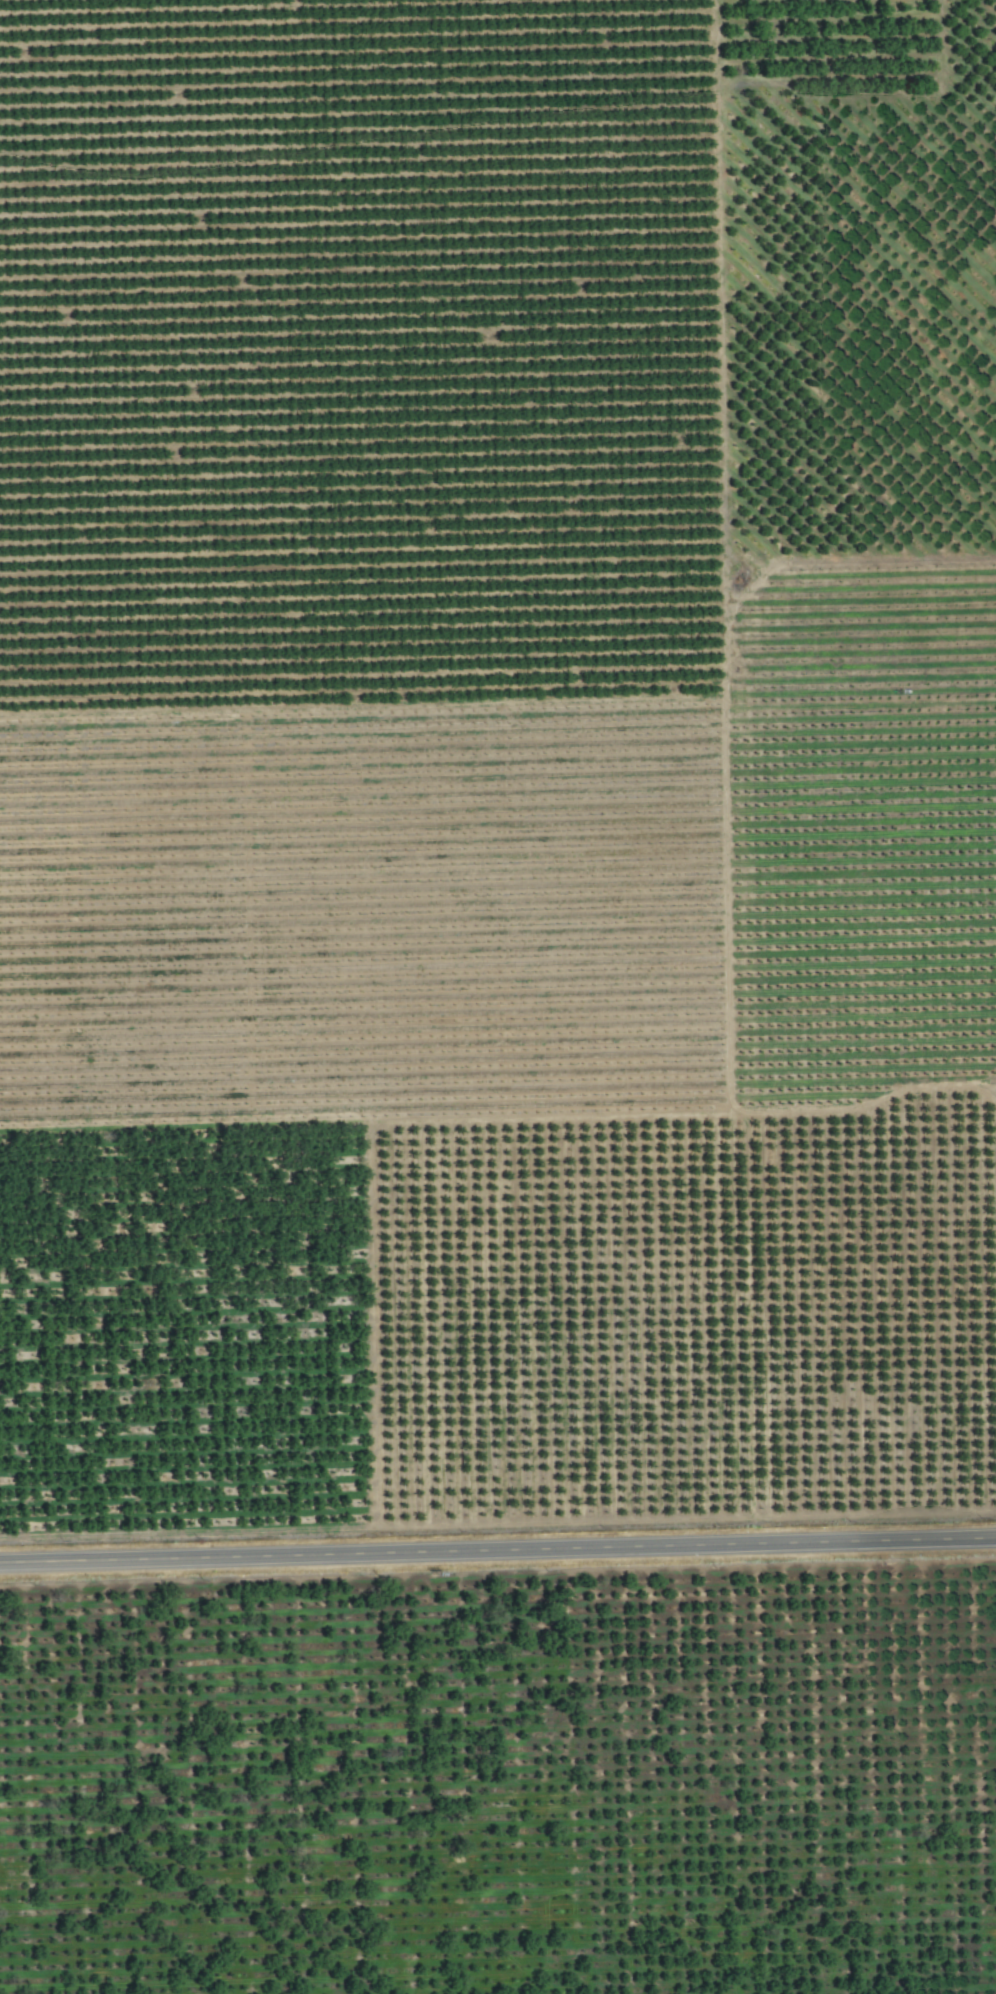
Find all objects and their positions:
road: (498, 1552)

